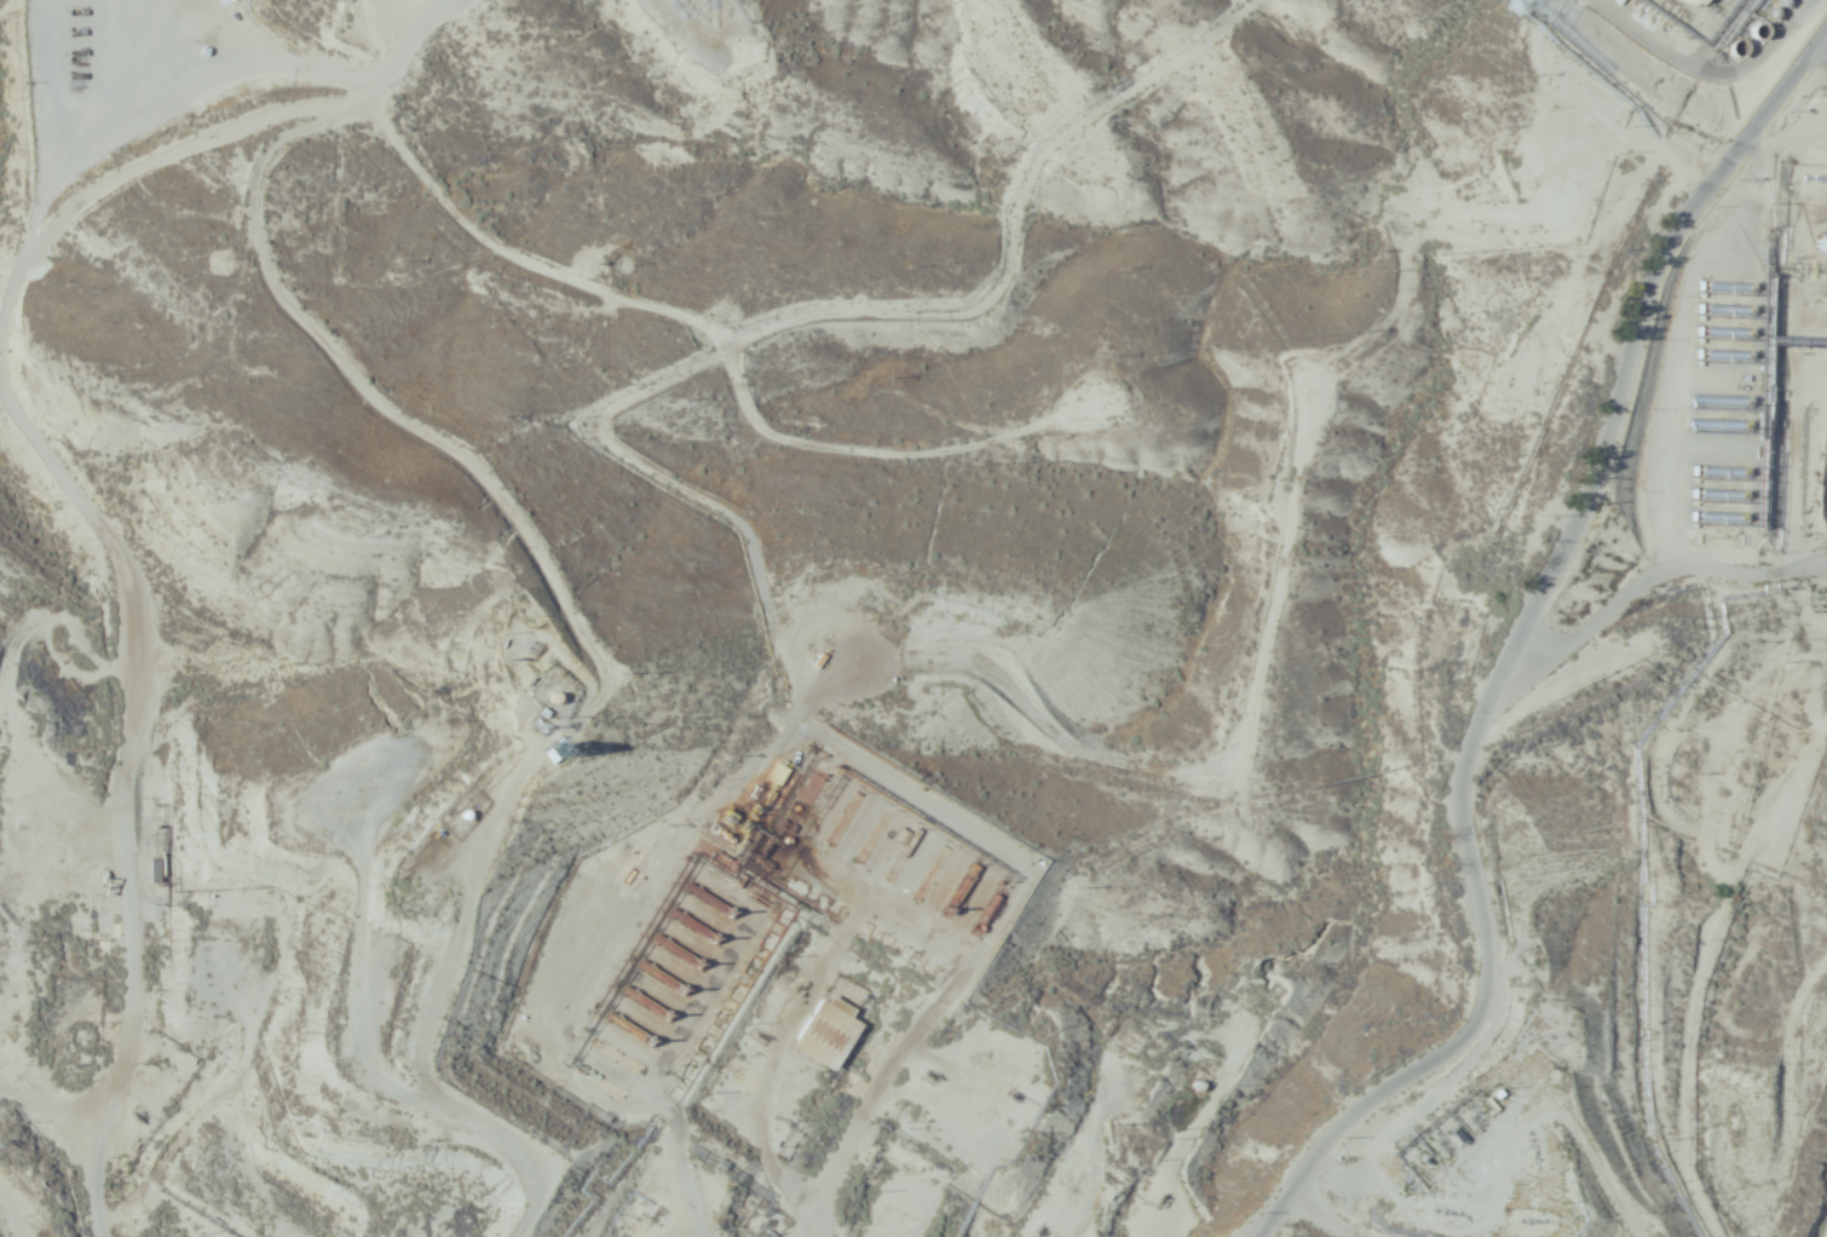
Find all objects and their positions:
building: (835, 1032)

